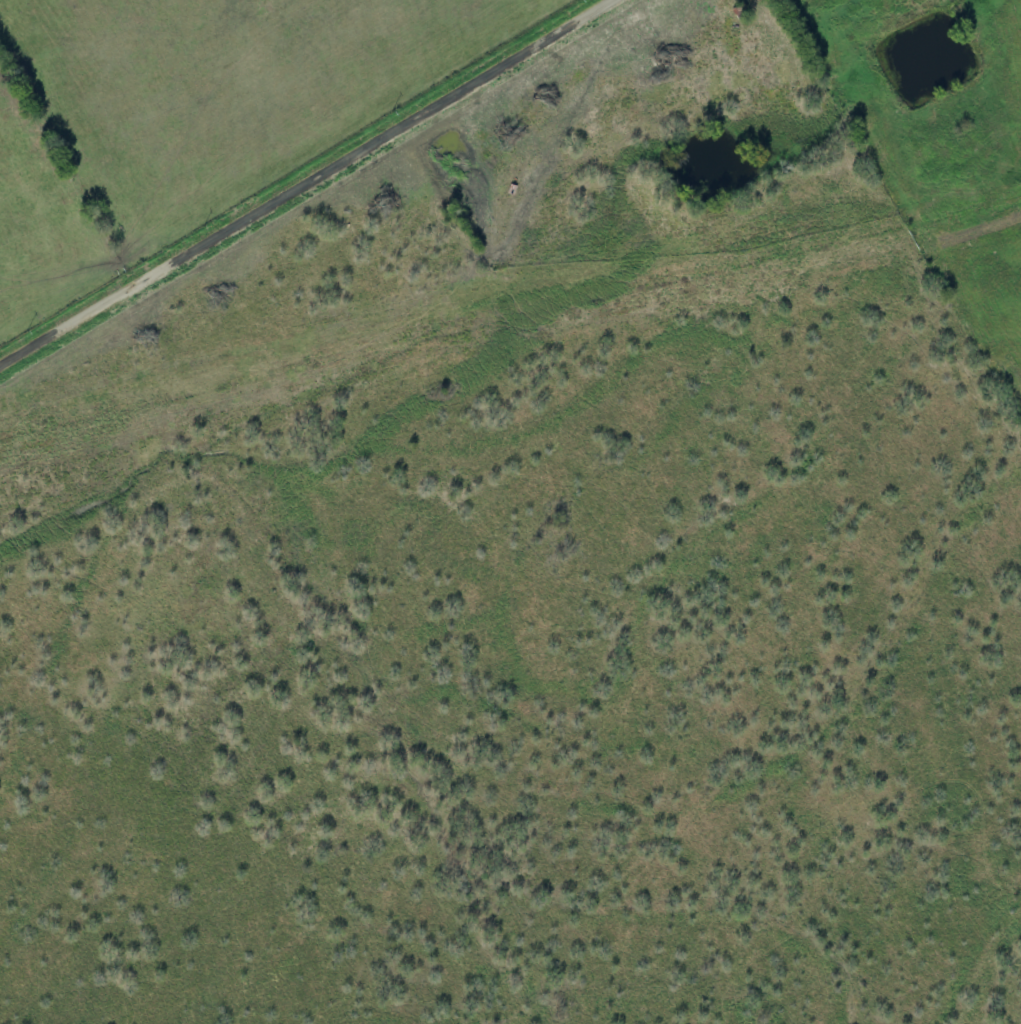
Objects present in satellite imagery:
road: (311, 185)

